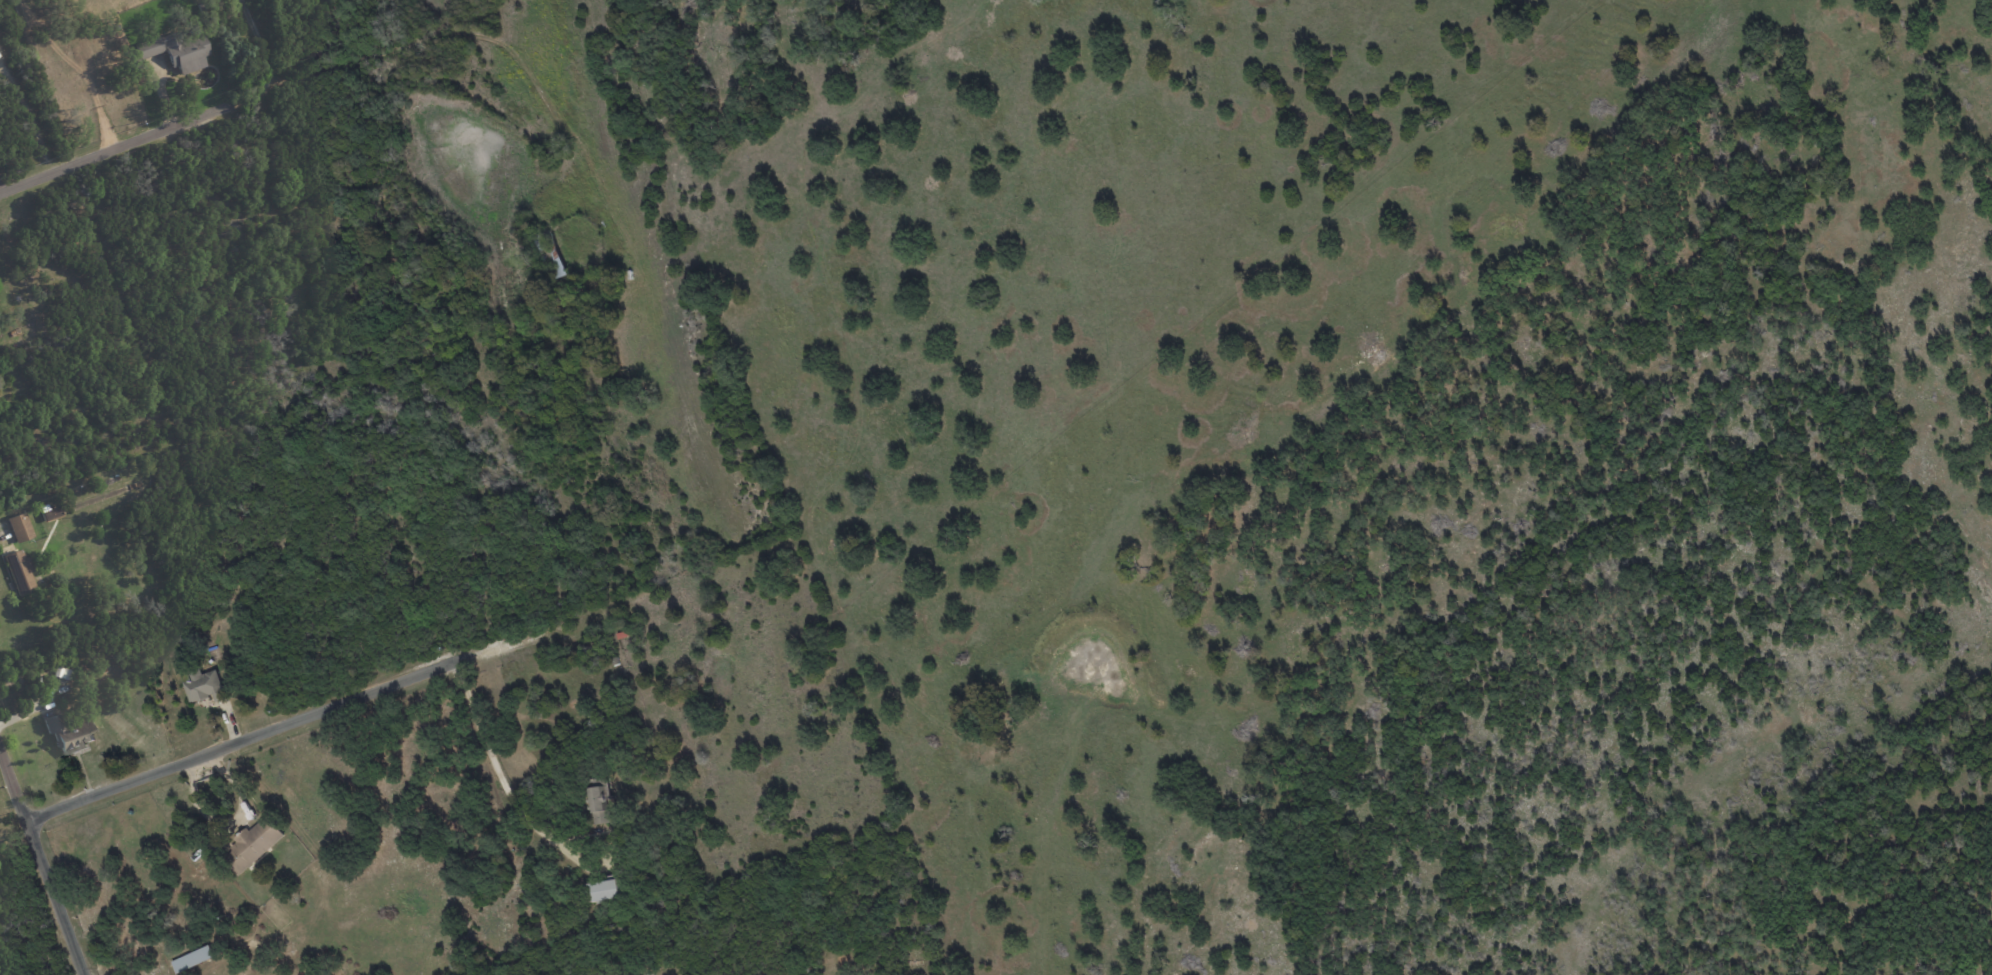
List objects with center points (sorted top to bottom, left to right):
road: (263, 45)
building: (175, 51)
road: (78, 69)
road: (145, 138)
airport runway: (639, 259)
building: (50, 513)
building: (18, 526)
building: (19, 571)
building: (61, 673)
building: (204, 686)
road: (315, 714)
building: (69, 734)
road: (497, 770)
building: (599, 803)
building: (254, 843)
road: (41, 866)
building: (601, 889)
building: (193, 959)

